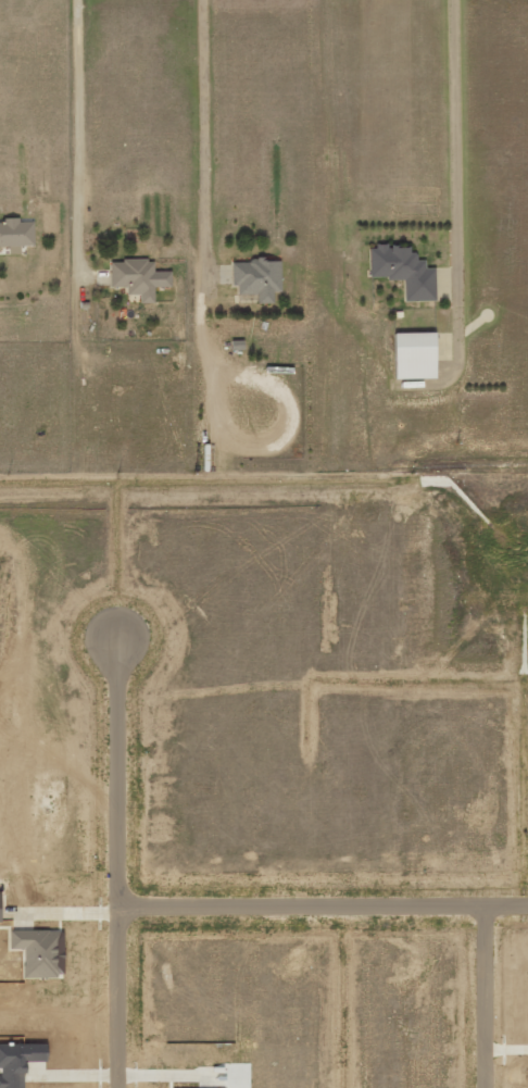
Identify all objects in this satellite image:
building: (15, 235)
building: (403, 272)
building: (134, 278)
building: (414, 357)
road: (121, 863)
road: (324, 904)
road: (488, 996)

